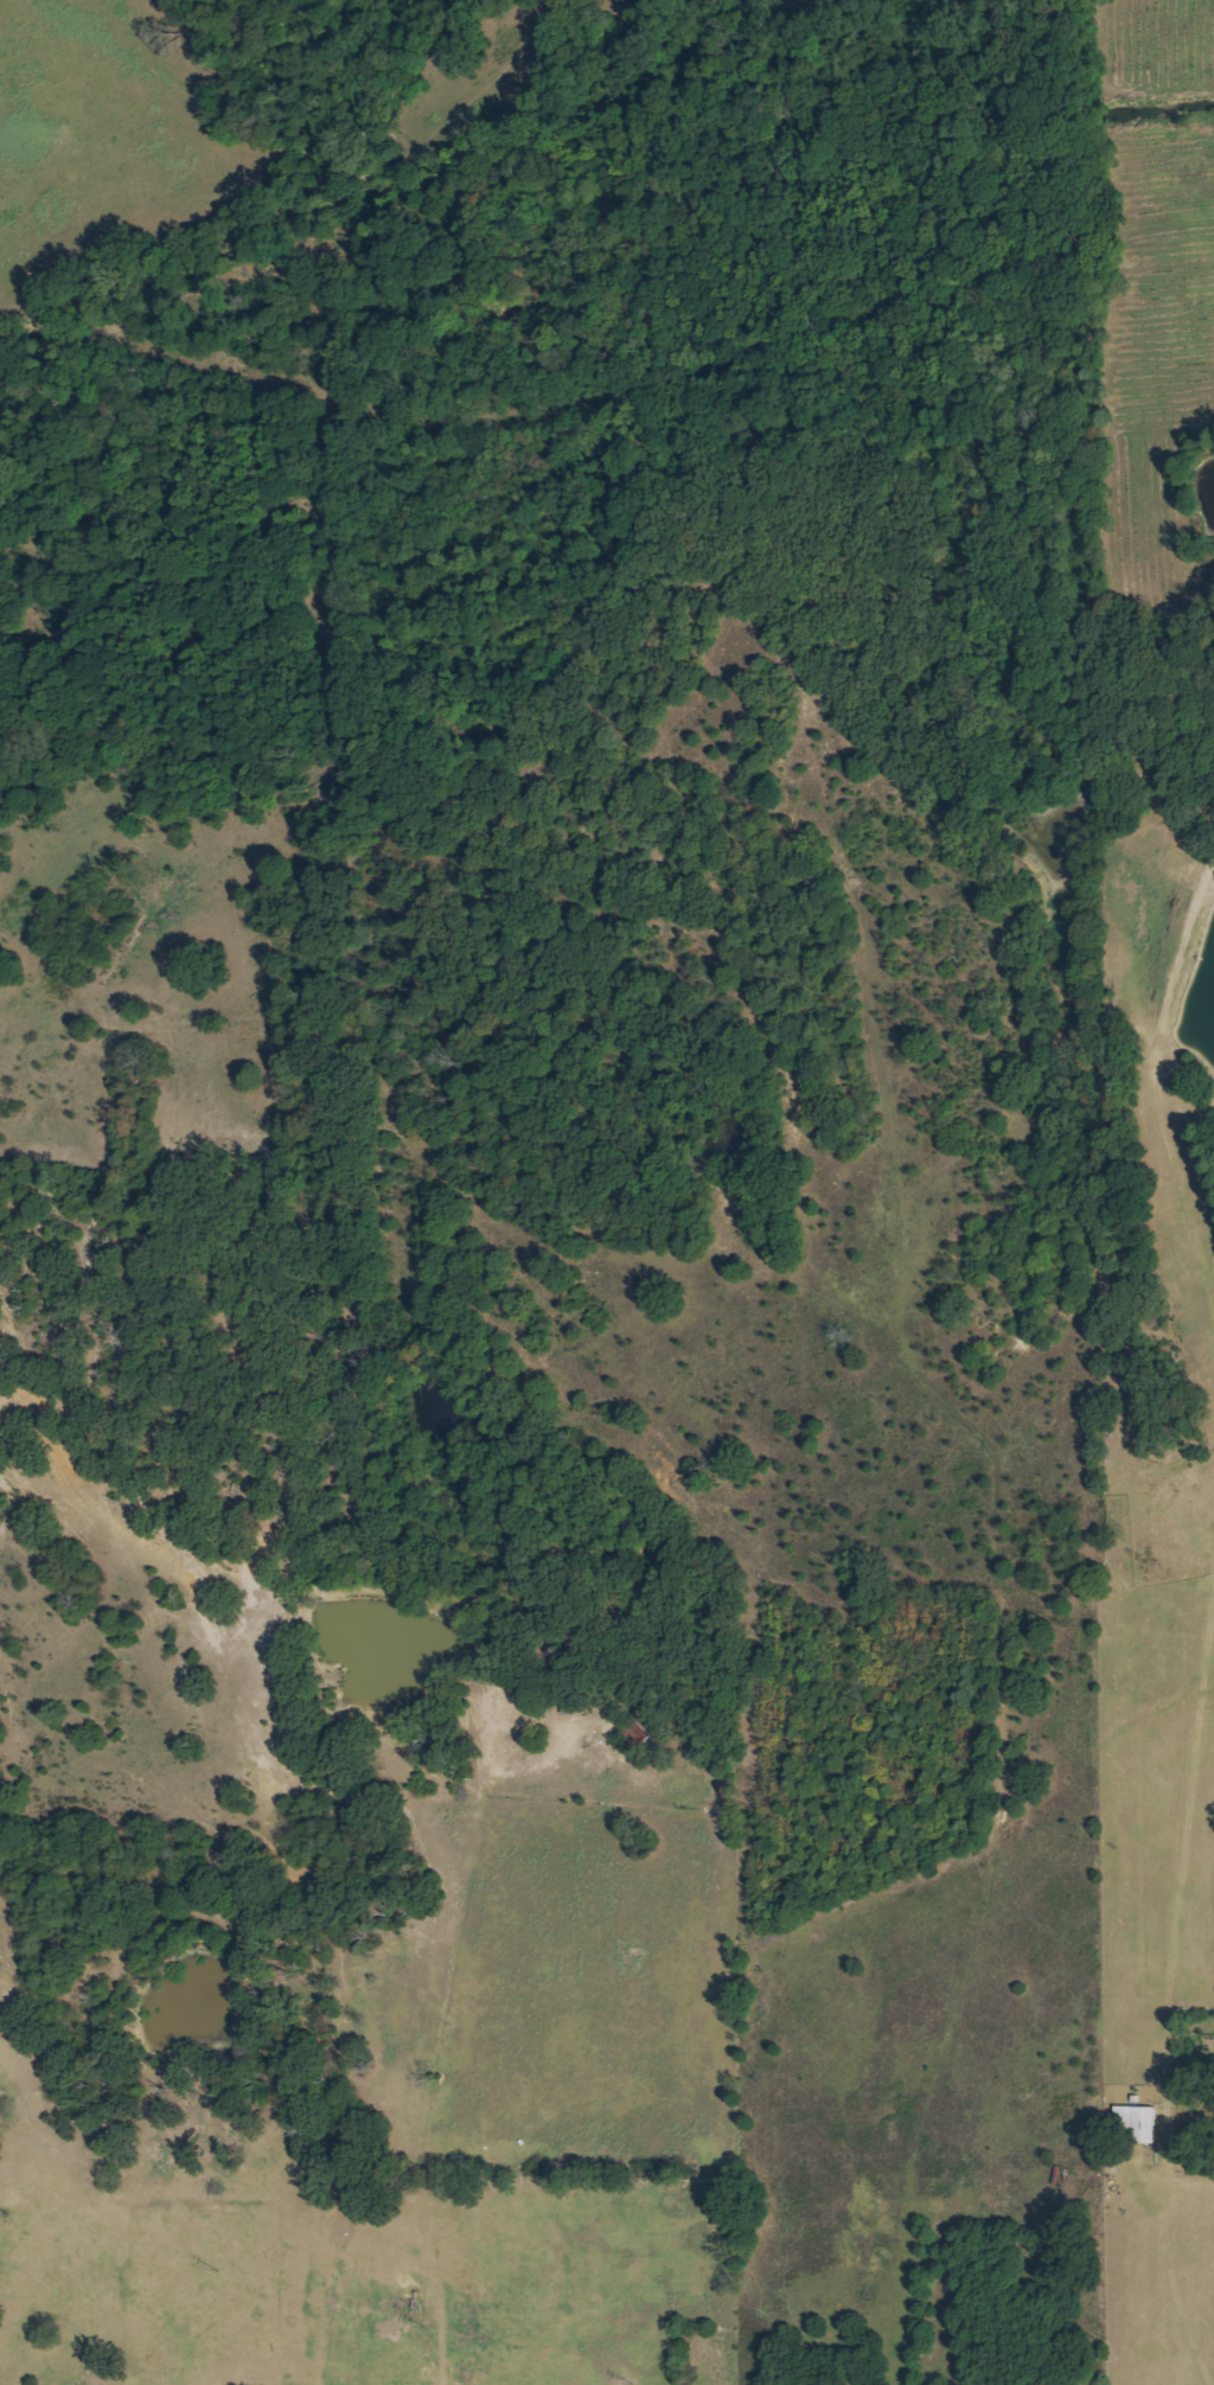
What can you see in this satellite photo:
building: (1138, 2122)

